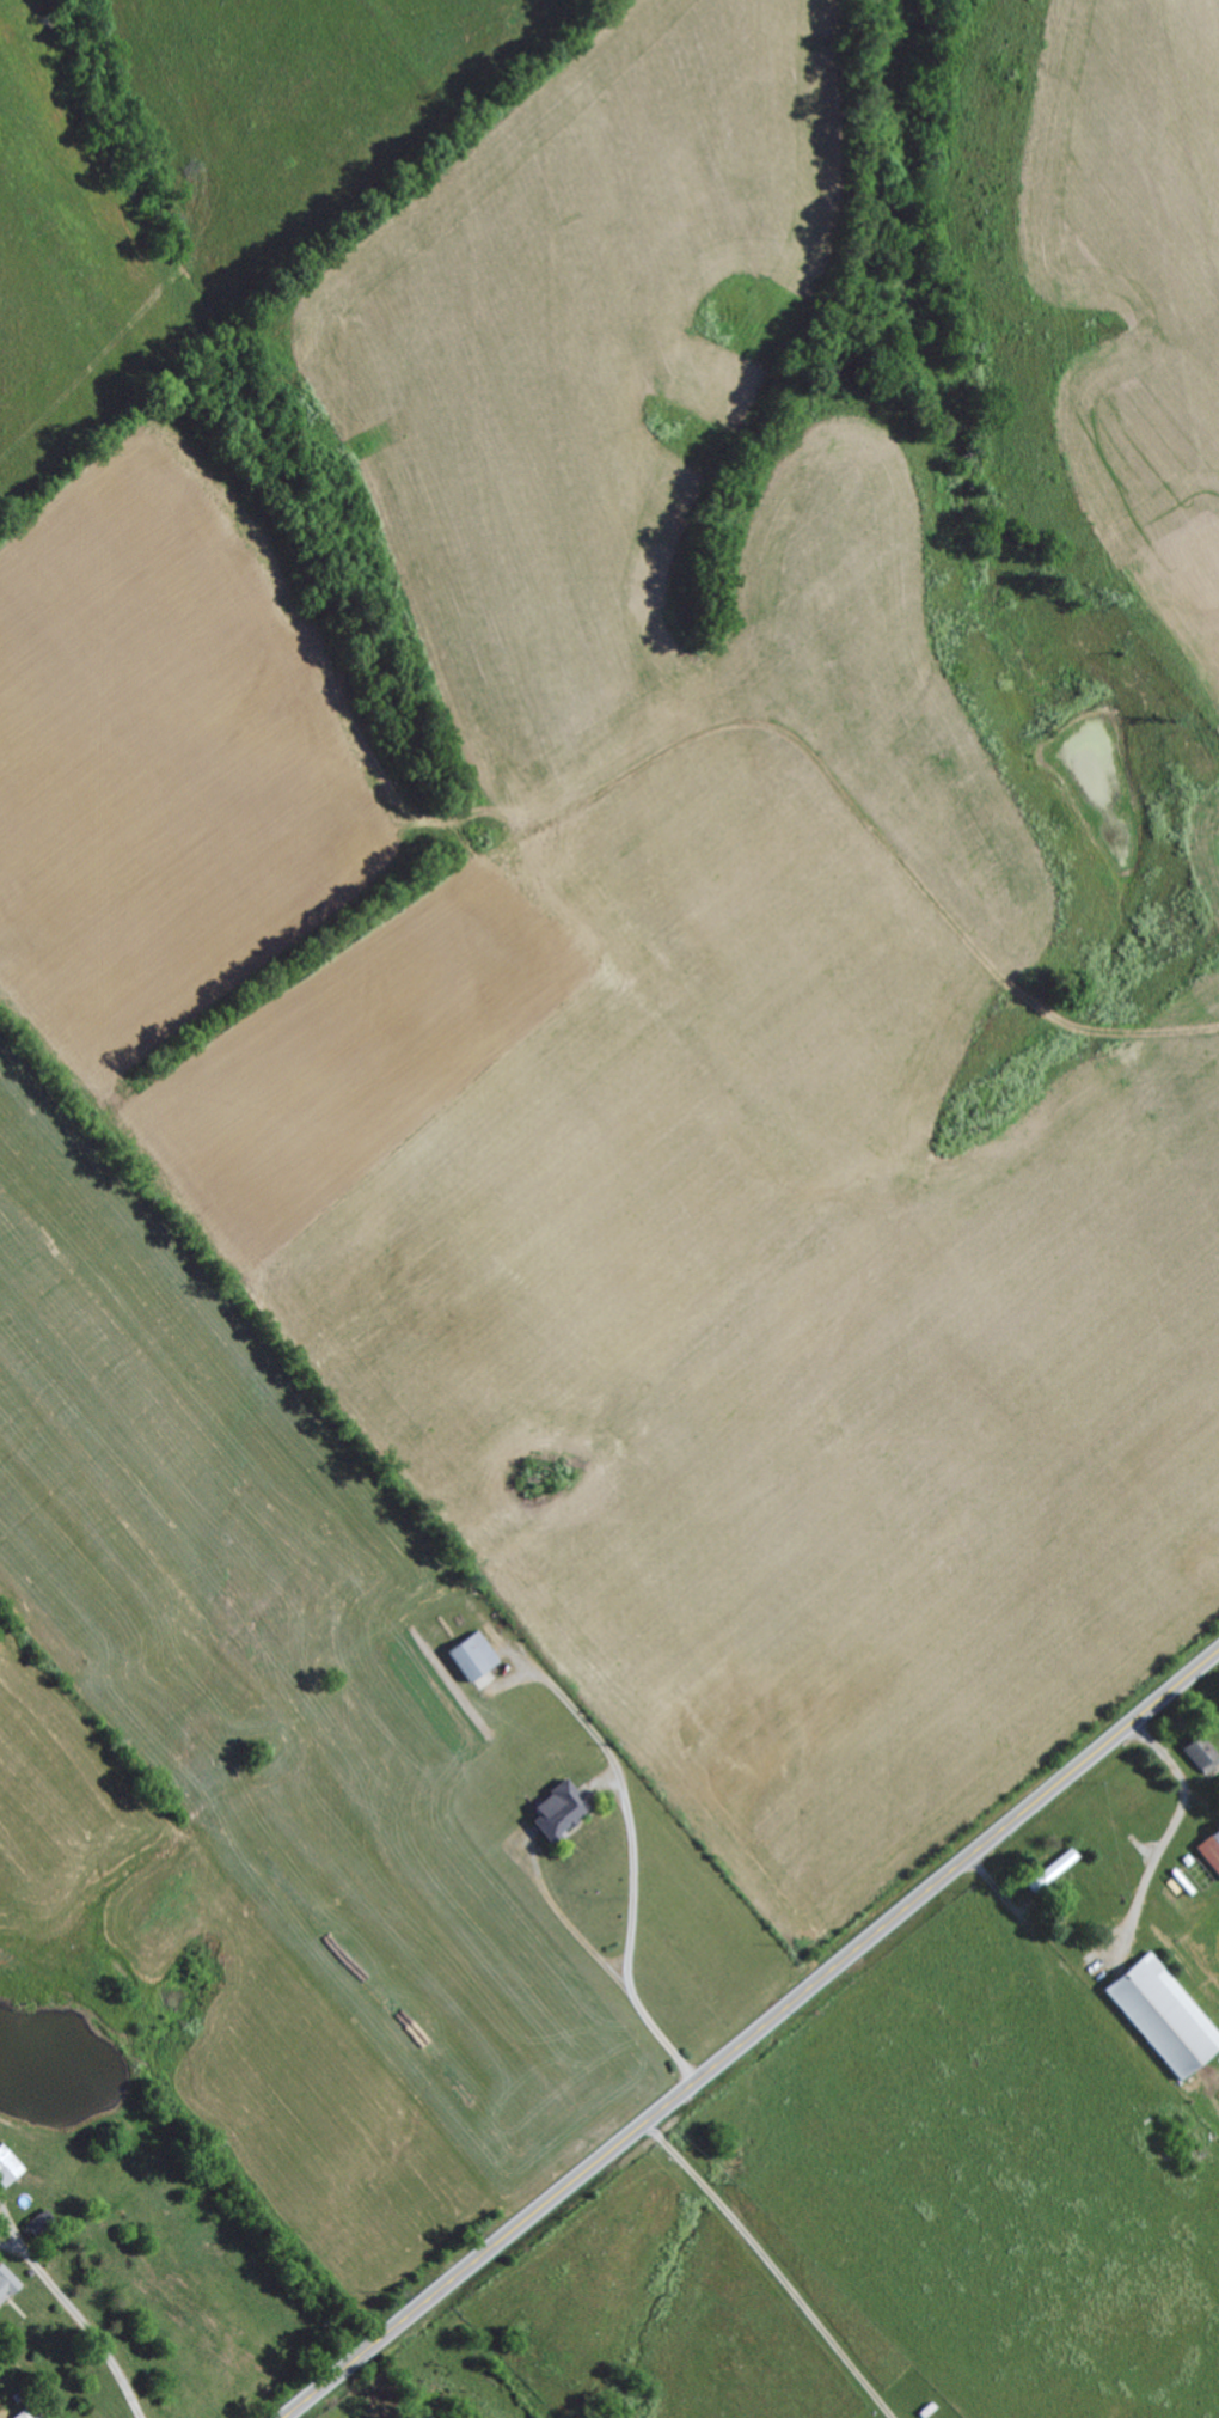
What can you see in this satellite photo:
building: (473, 1654)
building: (1200, 1750)
building: (558, 1806)
building: (1209, 1846)
road: (785, 2010)
road: (772, 2267)
road: (57, 2295)
road: (318, 2392)
road: (130, 2399)
building: (26, 2413)

